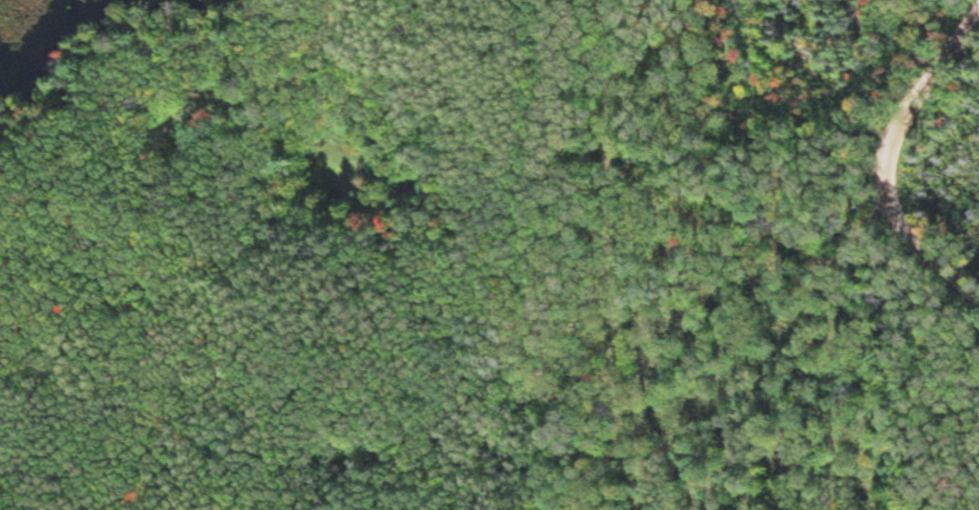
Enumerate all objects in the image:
road: (245, 119)
road: (879, 155)
road: (290, 352)

